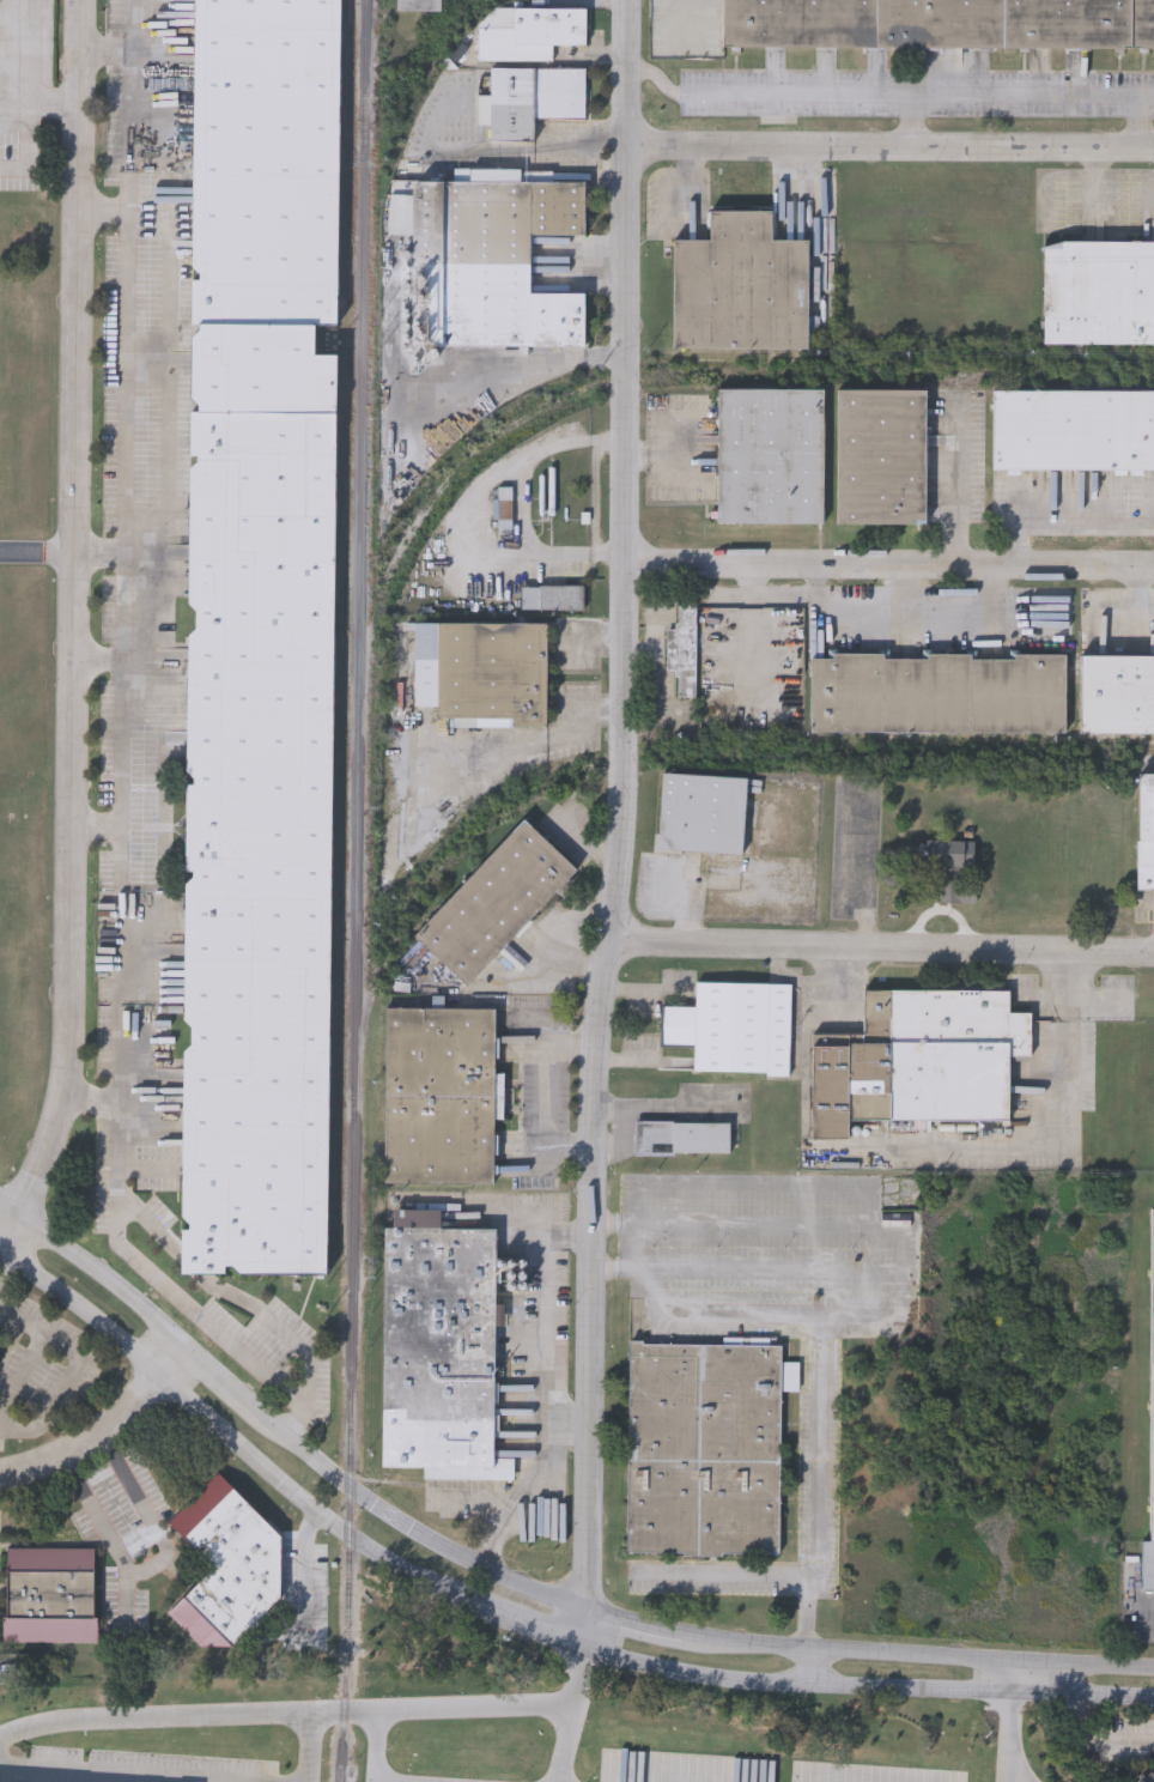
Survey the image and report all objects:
building: (418, 5)
building: (939, 24)
building: (529, 34)
road: (103, 57)
road: (32, 68)
road: (655, 74)
road: (916, 96)
building: (529, 102)
road: (911, 121)
road: (1140, 122)
road: (28, 143)
road: (614, 145)
road: (888, 146)
road: (482, 152)
road: (1098, 194)
road: (102, 216)
building: (488, 260)
building: (740, 286)
building: (1098, 292)
building: (1073, 430)
road: (685, 450)
road: (655, 456)
building: (770, 456)
building: (881, 457)
road: (955, 484)
building: (504, 507)
road: (523, 507)
road: (1059, 511)
road: (36, 551)
road: (97, 551)
road: (122, 553)
road: (888, 562)
road: (751, 576)
road: (906, 588)
road: (783, 592)
road: (1138, 593)
building: (552, 598)
road: (912, 614)
road: (71, 628)
building: (259, 638)
road: (751, 641)
building: (682, 653)
road: (96, 666)
building: (481, 673)
building: (1116, 693)
building: (937, 695)
road: (515, 747)
building: (701, 814)
road: (621, 824)
road: (95, 826)
building: (1146, 832)
building: (948, 871)
railway: (357, 891)
building: (494, 904)
road: (688, 904)
road: (566, 933)
road: (881, 948)
building: (734, 1029)
road: (570, 1045)
building: (921, 1062)
building: (439, 1097)
road: (547, 1097)
road: (1065, 1125)
building: (682, 1138)
road: (569, 1150)
road: (130, 1154)
road: (757, 1184)
parking lot: (626, 1194)
road: (644, 1204)
parking lot: (754, 1205)
road: (870, 1205)
road: (505, 1217)
road: (612, 1225)
road: (763, 1226)
road: (558, 1237)
road: (632, 1247)
parking lot: (767, 1248)
road: (194, 1261)
road: (5, 1266)
road: (92, 1268)
road: (901, 1268)
road: (637, 1271)
road: (769, 1271)
parking lot: (746, 1292)
road: (862, 1317)
road: (291, 1341)
road: (547, 1342)
building: (439, 1348)
road: (166, 1352)
road: (75, 1371)
road: (820, 1371)
road: (23, 1374)
road: (221, 1376)
road: (567, 1425)
road: (232, 1435)
building: (1150, 1437)
road: (92, 1439)
building: (704, 1449)
road: (534, 1481)
road: (473, 1497)
road: (413, 1528)
road: (491, 1550)
road: (152, 1563)
building: (227, 1574)
road: (304, 1574)
road: (725, 1578)
road: (812, 1589)
building: (49, 1596)
road: (1153, 1608)
road: (806, 1623)
road: (633, 1624)
road: (527, 1628)
road: (918, 1656)
road: (814, 1667)
road: (1012, 1678)
road: (865, 1687)
road: (316, 1710)
road: (1009, 1738)
road: (1085, 1739)
road: (566, 1744)
road: (310, 1746)
road: (378, 1746)
road: (1012, 1765)
road: (122, 1772)
building: (1148, 1777)

